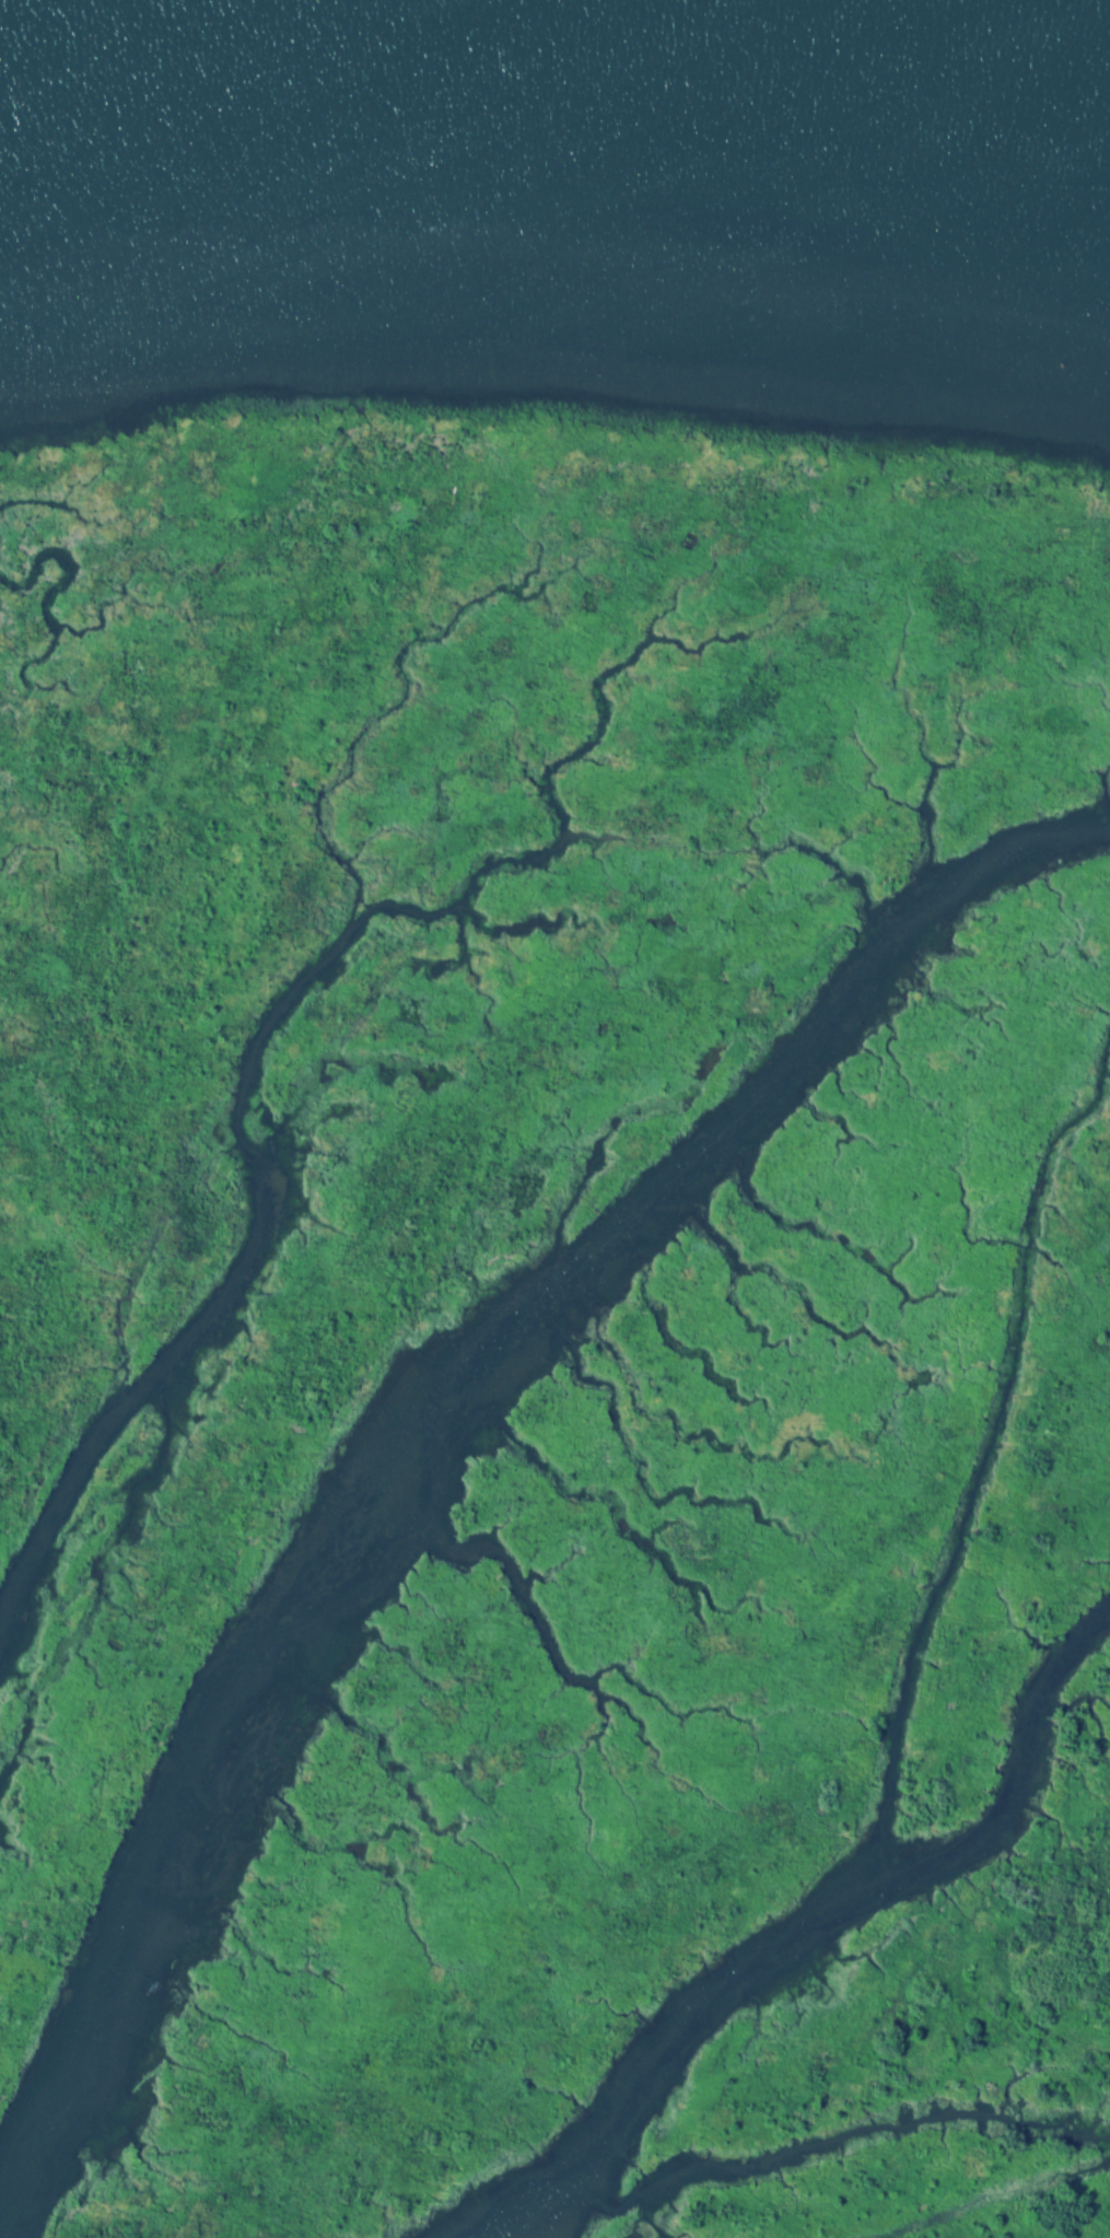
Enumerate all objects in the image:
river: (703, 66)

